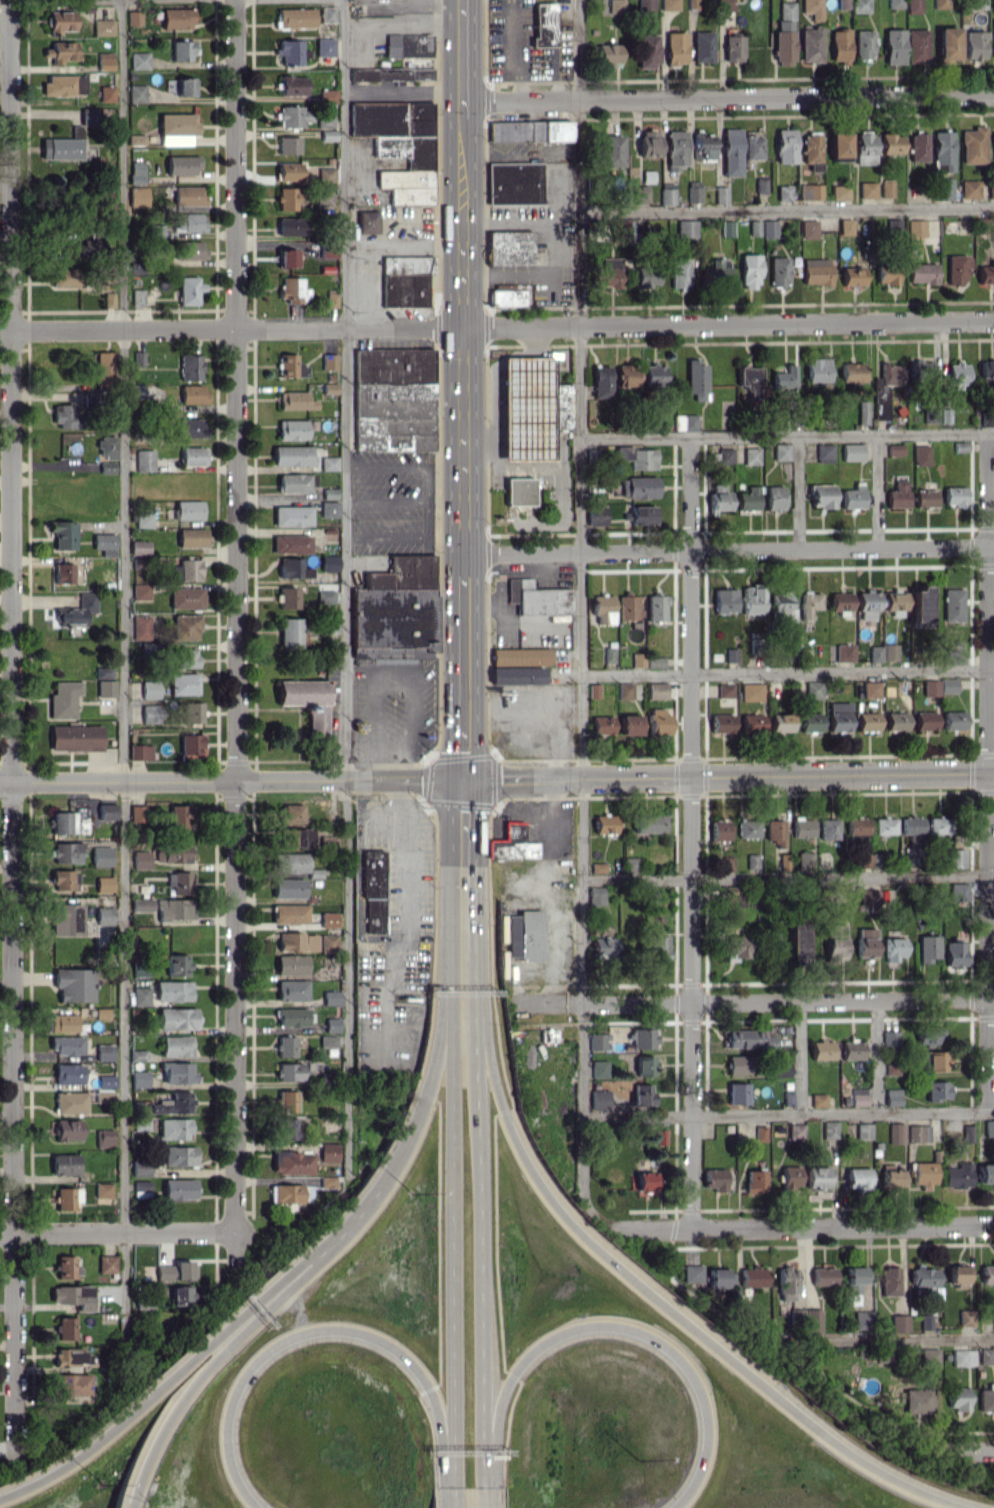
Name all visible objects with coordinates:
building: (895, 3)
building: (692, 4)
building: (843, 4)
building: (940, 4)
building: (978, 4)
road: (431, 5)
building: (645, 5)
building: (669, 5)
building: (724, 5)
building: (616, 6)
building: (860, 6)
building: (913, 6)
building: (812, 8)
building: (327, 14)
building: (133, 17)
building: (294, 17)
building: (176, 18)
building: (59, 21)
building: (543, 25)
building: (102, 27)
building: (784, 33)
building: (993, 39)
building: (947, 43)
building: (810, 44)
building: (863, 44)
building: (973, 44)
building: (407, 45)
building: (839, 45)
building: (916, 45)
building: (324, 46)
building: (702, 46)
building: (893, 46)
building: (675, 47)
building: (732, 47)
building: (181, 50)
building: (647, 50)
building: (60, 51)
building: (290, 51)
building: (608, 54)
building: (138, 60)
building: (104, 61)
road: (461, 61)
building: (390, 73)
building: (63, 84)
building: (292, 85)
building: (184, 86)
building: (106, 93)
building: (136, 93)
building: (327, 95)
road: (727, 97)
building: (89, 116)
building: (293, 116)
building: (324, 122)
building: (176, 128)
building: (529, 131)
building: (135, 139)
building: (648, 143)
building: (890, 143)
building: (839, 144)
building: (288, 145)
building: (785, 145)
building: (973, 145)
building: (993, 145)
building: (398, 146)
building: (702, 146)
building: (918, 146)
building: (752, 147)
building: (810, 147)
building: (60, 148)
building: (864, 148)
building: (675, 149)
building: (611, 151)
building: (943, 151)
building: (731, 152)
building: (181, 165)
building: (289, 171)
building: (135, 172)
building: (325, 174)
road: (462, 174)
building: (514, 183)
building: (760, 185)
building: (886, 189)
building: (943, 189)
building: (969, 189)
building: (866, 190)
building: (991, 190)
building: (693, 191)
building: (810, 191)
building: (783, 192)
building: (839, 192)
building: (667, 193)
building: (720, 194)
building: (188, 195)
building: (640, 195)
building: (137, 196)
building: (286, 198)
building: (106, 202)
road: (786, 208)
building: (188, 222)
building: (367, 222)
road: (520, 222)
building: (893, 225)
building: (980, 225)
building: (289, 226)
building: (845, 226)
building: (754, 227)
building: (686, 228)
building: (727, 228)
building: (768, 228)
building: (808, 228)
building: (916, 228)
building: (621, 230)
building: (155, 231)
building: (82, 247)
road: (403, 247)
building: (508, 248)
building: (190, 249)
building: (328, 249)
building: (286, 258)
building: (956, 268)
building: (749, 271)
building: (815, 271)
building: (715, 272)
building: (778, 272)
building: (608, 273)
building: (679, 273)
building: (921, 273)
building: (986, 273)
building: (853, 276)
building: (886, 276)
building: (65, 278)
building: (646, 278)
building: (404, 280)
building: (291, 289)
building: (188, 290)
building: (509, 294)
building: (137, 297)
building: (331, 298)
building: (108, 299)
road: (728, 323)
road: (231, 328)
road: (533, 337)
road: (526, 352)
building: (328, 361)
road: (510, 365)
building: (290, 366)
building: (190, 367)
building: (103, 368)
building: (922, 368)
building: (817, 369)
building: (987, 370)
building: (851, 372)
building: (653, 374)
building: (956, 374)
building: (626, 375)
road: (463, 377)
building: (785, 377)
building: (696, 379)
building: (749, 380)
building: (601, 381)
building: (884, 389)
building: (136, 391)
building: (192, 394)
building: (392, 399)
building: (295, 400)
building: (557, 405)
building: (526, 409)
building: (862, 412)
building: (65, 416)
road: (497, 419)
building: (684, 422)
building: (190, 427)
building: (291, 429)
road: (787, 436)
building: (106, 447)
building: (894, 449)
building: (781, 451)
building: (852, 451)
building: (824, 453)
building: (193, 455)
building: (291, 455)
building: (725, 455)
building: (921, 455)
building: (751, 456)
building: (636, 457)
building: (143, 460)
building: (328, 463)
road: (401, 468)
building: (293, 482)
building: (638, 487)
building: (518, 491)
road: (876, 491)
road: (796, 492)
building: (898, 493)
building: (821, 495)
building: (852, 496)
building: (954, 496)
building: (718, 498)
building: (748, 498)
building: (774, 498)
building: (925, 498)
road: (444, 501)
road: (347, 502)
building: (329, 508)
building: (188, 509)
building: (595, 515)
building: (640, 515)
building: (292, 516)
building: (143, 519)
road: (426, 520)
building: (61, 534)
building: (191, 537)
building: (104, 543)
building: (290, 543)
building: (139, 547)
road: (728, 549)
road: (463, 551)
building: (329, 563)
building: (292, 568)
building: (185, 570)
building: (62, 573)
road: (345, 590)
building: (140, 591)
building: (325, 596)
building: (185, 597)
building: (287, 597)
building: (537, 598)
building: (724, 600)
building: (751, 600)
building: (840, 601)
building: (895, 601)
building: (809, 604)
building: (867, 604)
building: (952, 604)
building: (628, 606)
building: (656, 607)
building: (920, 607)
building: (602, 608)
building: (395, 610)
building: (77, 611)
building: (782, 611)
building: (329, 623)
road: (580, 625)
building: (185, 626)
building: (140, 627)
building: (289, 632)
road: (235, 637)
building: (889, 651)
building: (844, 652)
building: (875, 653)
building: (609, 654)
building: (731, 654)
building: (520, 655)
building: (953, 656)
building: (184, 657)
building: (655, 662)
road: (392, 667)
building: (102, 672)
road: (787, 672)
building: (516, 674)
road: (463, 676)
building: (183, 684)
building: (947, 684)
road: (123, 686)
building: (930, 687)
building: (106, 688)
building: (149, 689)
building: (813, 689)
building: (871, 689)
building: (624, 690)
building: (656, 690)
building: (724, 690)
building: (751, 691)
building: (63, 699)
building: (305, 702)
building: (191, 712)
building: (149, 713)
building: (838, 717)
building: (657, 720)
building: (925, 720)
building: (954, 720)
building: (809, 721)
building: (867, 721)
building: (896, 721)
building: (721, 722)
building: (780, 722)
building: (601, 724)
building: (630, 724)
building: (751, 724)
road: (10, 728)
building: (75, 737)
building: (190, 745)
building: (139, 751)
road: (987, 772)
road: (728, 776)
traffic signals: (463, 779)
road: (231, 780)
building: (106, 811)
building: (136, 813)
building: (289, 813)
building: (178, 816)
building: (63, 822)
building: (604, 823)
building: (649, 823)
building: (884, 825)
building: (911, 825)
building: (939, 825)
building: (857, 826)
building: (802, 827)
building: (747, 828)
building: (828, 828)
building: (719, 829)
road: (473, 830)
building: (774, 831)
road: (691, 832)
building: (294, 837)
building: (512, 843)
road: (452, 850)
building: (67, 852)
building: (171, 853)
road: (550, 855)
building: (101, 856)
road: (403, 857)
building: (956, 858)
building: (140, 859)
building: (804, 859)
building: (289, 862)
building: (751, 862)
building: (727, 863)
road: (787, 876)
building: (64, 880)
building: (179, 881)
building: (104, 883)
building: (288, 888)
building: (372, 889)
building: (958, 892)
building: (595, 895)
building: (734, 897)
building: (868, 898)
building: (142, 905)
building: (174, 909)
building: (289, 914)
building: (104, 915)
building: (66, 919)
building: (328, 919)
road: (474, 933)
building: (524, 935)
building: (835, 940)
building: (297, 941)
building: (796, 941)
building: (328, 942)
building: (865, 942)
building: (660, 947)
building: (736, 947)
building: (602, 948)
building: (893, 948)
building: (928, 948)
road: (550, 950)
building: (954, 956)
building: (177, 964)
building: (291, 964)
building: (74, 984)
building: (291, 990)
building: (173, 991)
road: (384, 995)
building: (141, 996)
building: (331, 997)
road: (753, 1001)
building: (291, 1016)
building: (177, 1018)
building: (62, 1023)
building: (332, 1025)
building: (928, 1035)
building: (890, 1037)
building: (644, 1038)
building: (749, 1039)
building: (327, 1041)
building: (597, 1041)
building: (67, 1045)
building: (176, 1045)
building: (285, 1046)
building: (821, 1049)
building: (851, 1050)
building: (104, 1052)
building: (138, 1055)
road: (876, 1056)
road: (800, 1058)
building: (932, 1059)
road: (434, 1063)
building: (739, 1064)
building: (645, 1065)
building: (599, 1068)
building: (781, 1069)
building: (290, 1071)
building: (178, 1072)
building: (68, 1073)
building: (140, 1078)
building: (105, 1087)
building: (937, 1090)
building: (737, 1093)
building: (642, 1094)
building: (859, 1096)
building: (892, 1097)
building: (600, 1099)
building: (819, 1100)
building: (287, 1101)
building: (70, 1102)
building: (173, 1103)
road: (788, 1115)
building: (142, 1124)
building: (175, 1128)
building: (289, 1128)
building: (989, 1128)
building: (68, 1129)
building: (830, 1129)
building: (863, 1131)
building: (795, 1132)
building: (761, 1133)
building: (896, 1133)
building: (918, 1133)
building: (659, 1137)
building: (104, 1138)
building: (329, 1152)
building: (180, 1155)
building: (293, 1162)
building: (64, 1164)
building: (141, 1167)
building: (924, 1173)
building: (986, 1174)
building: (958, 1175)
building: (790, 1176)
building: (818, 1177)
building: (858, 1178)
building: (892, 1178)
building: (716, 1179)
building: (328, 1181)
building: (756, 1181)
building: (644, 1184)
building: (180, 1189)
building: (103, 1190)
building: (67, 1198)
road: (450, 1205)
road: (357, 1213)
road: (807, 1226)
road: (117, 1232)
road: (477, 1234)
building: (106, 1264)
building: (66, 1267)
building: (183, 1270)
building: (164, 1271)
building: (694, 1273)
building: (957, 1273)
building: (987, 1273)
building: (753, 1276)
building: (823, 1276)
building: (721, 1277)
building: (924, 1277)
building: (889, 1281)
building: (853, 1283)
building: (787, 1284)
building: (182, 1295)
building: (73, 1296)
road: (654, 1298)
building: (966, 1317)
building: (993, 1317)
building: (862, 1319)
building: (812, 1321)
building: (926, 1321)
building: (898, 1323)
road: (616, 1324)
road: (316, 1327)
building: (65, 1328)
road: (888, 1340)
road: (217, 1354)
building: (986, 1356)
building: (70, 1357)
building: (929, 1357)
building: (963, 1357)
road: (173, 1374)
building: (72, 1384)
building: (957, 1398)
building: (986, 1398)
building: (918, 1400)
road: (964, 1450)
road: (450, 1497)
road: (479, 1497)
road: (125, 1501)

